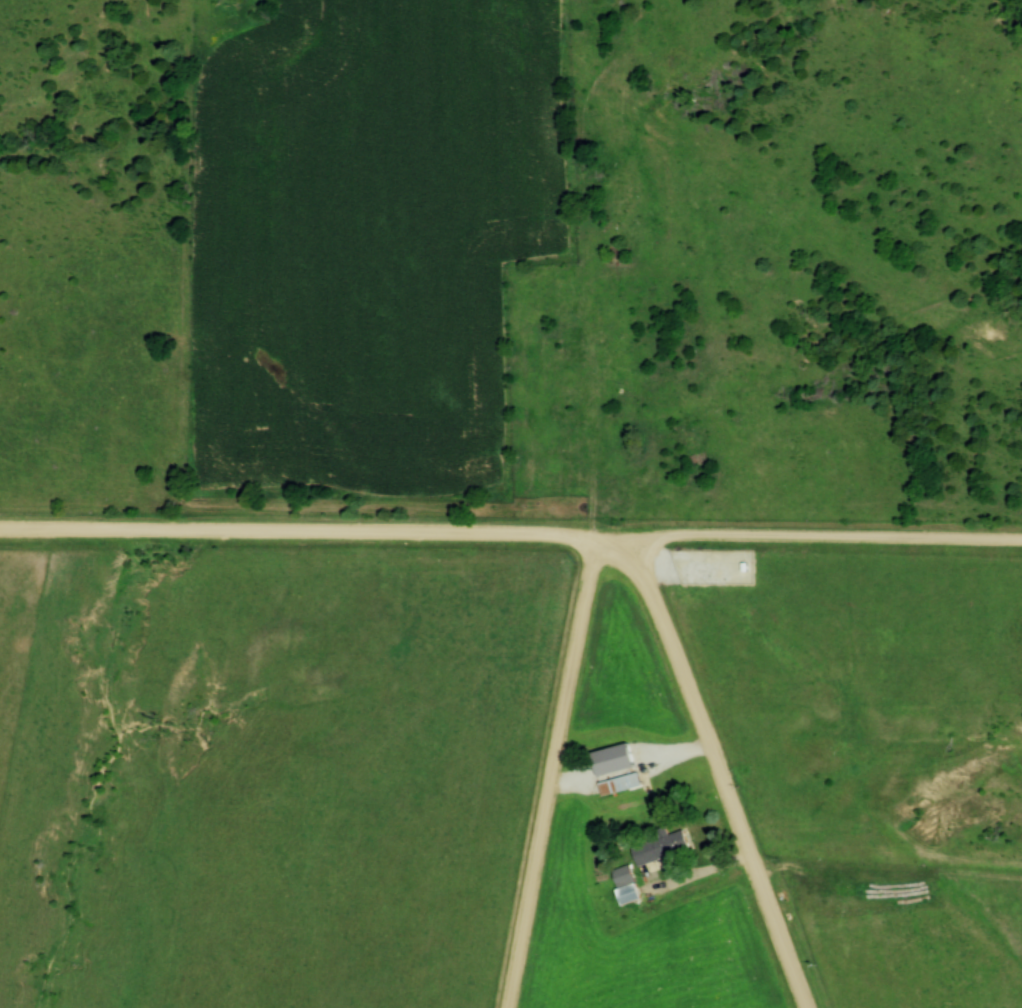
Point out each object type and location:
road: (511, 539)
road: (716, 768)
building: (614, 771)
road: (557, 775)
building: (657, 846)
building: (622, 876)

